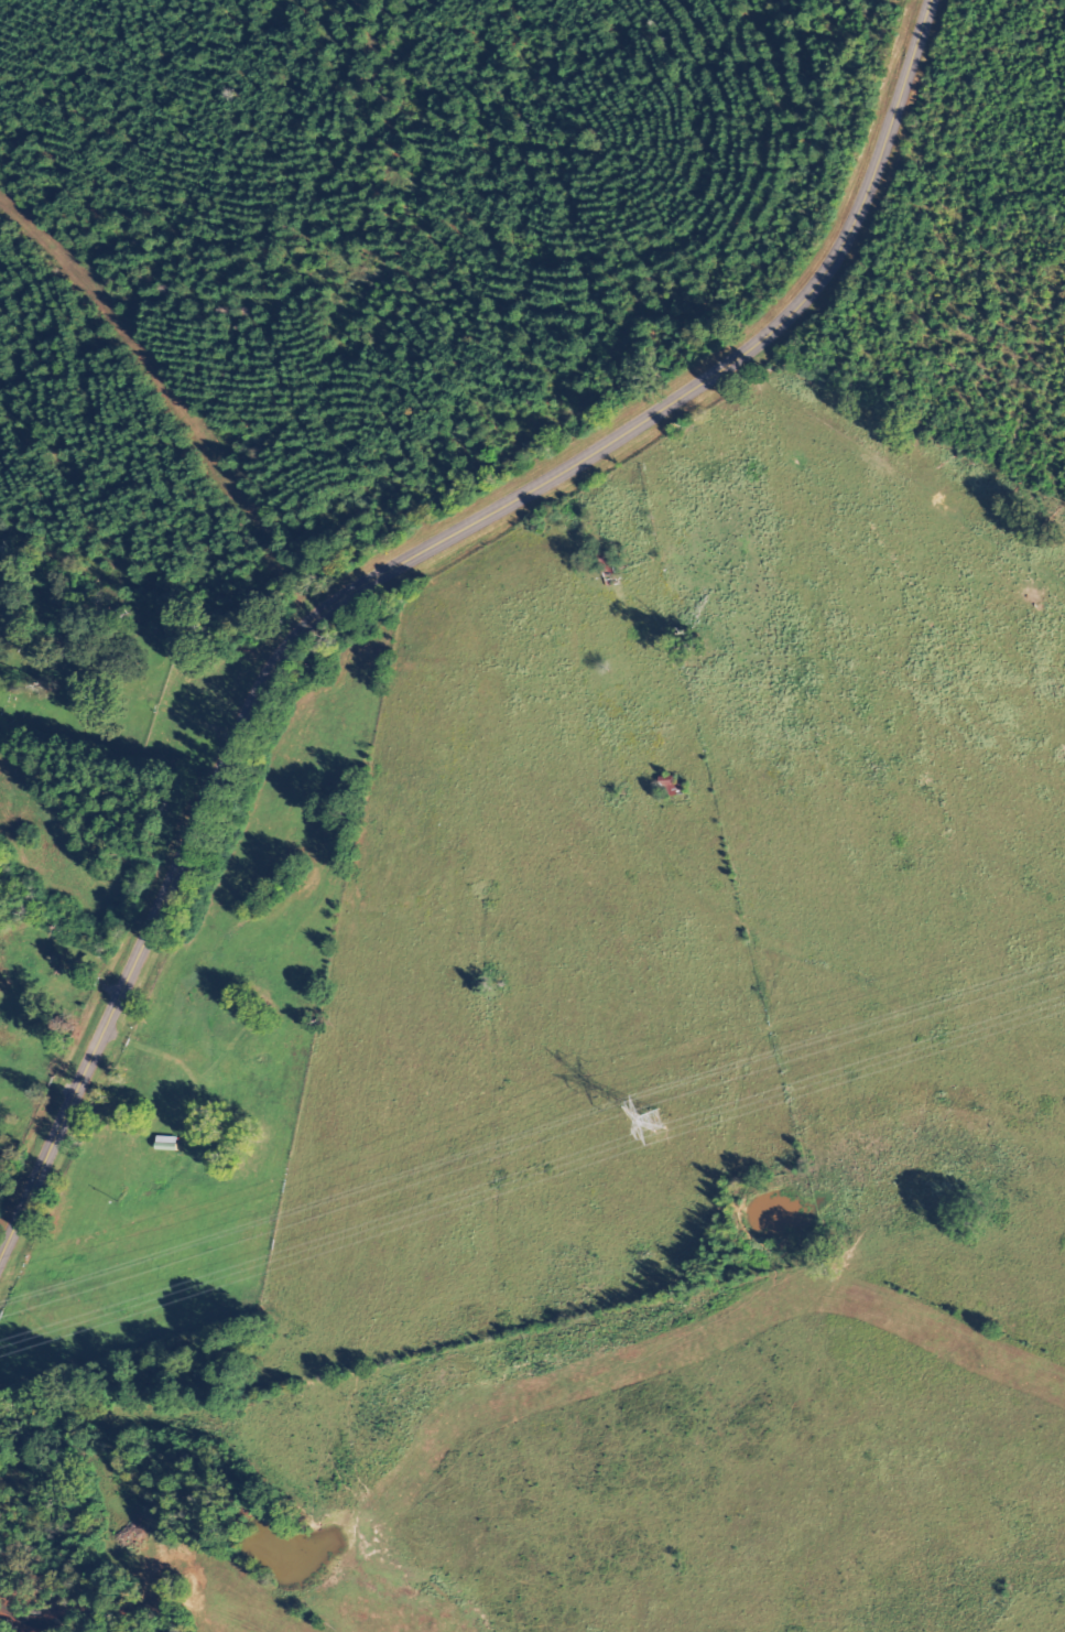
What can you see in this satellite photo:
road: (398, 566)
park: (87, 681)
power tower: (659, 1121)

